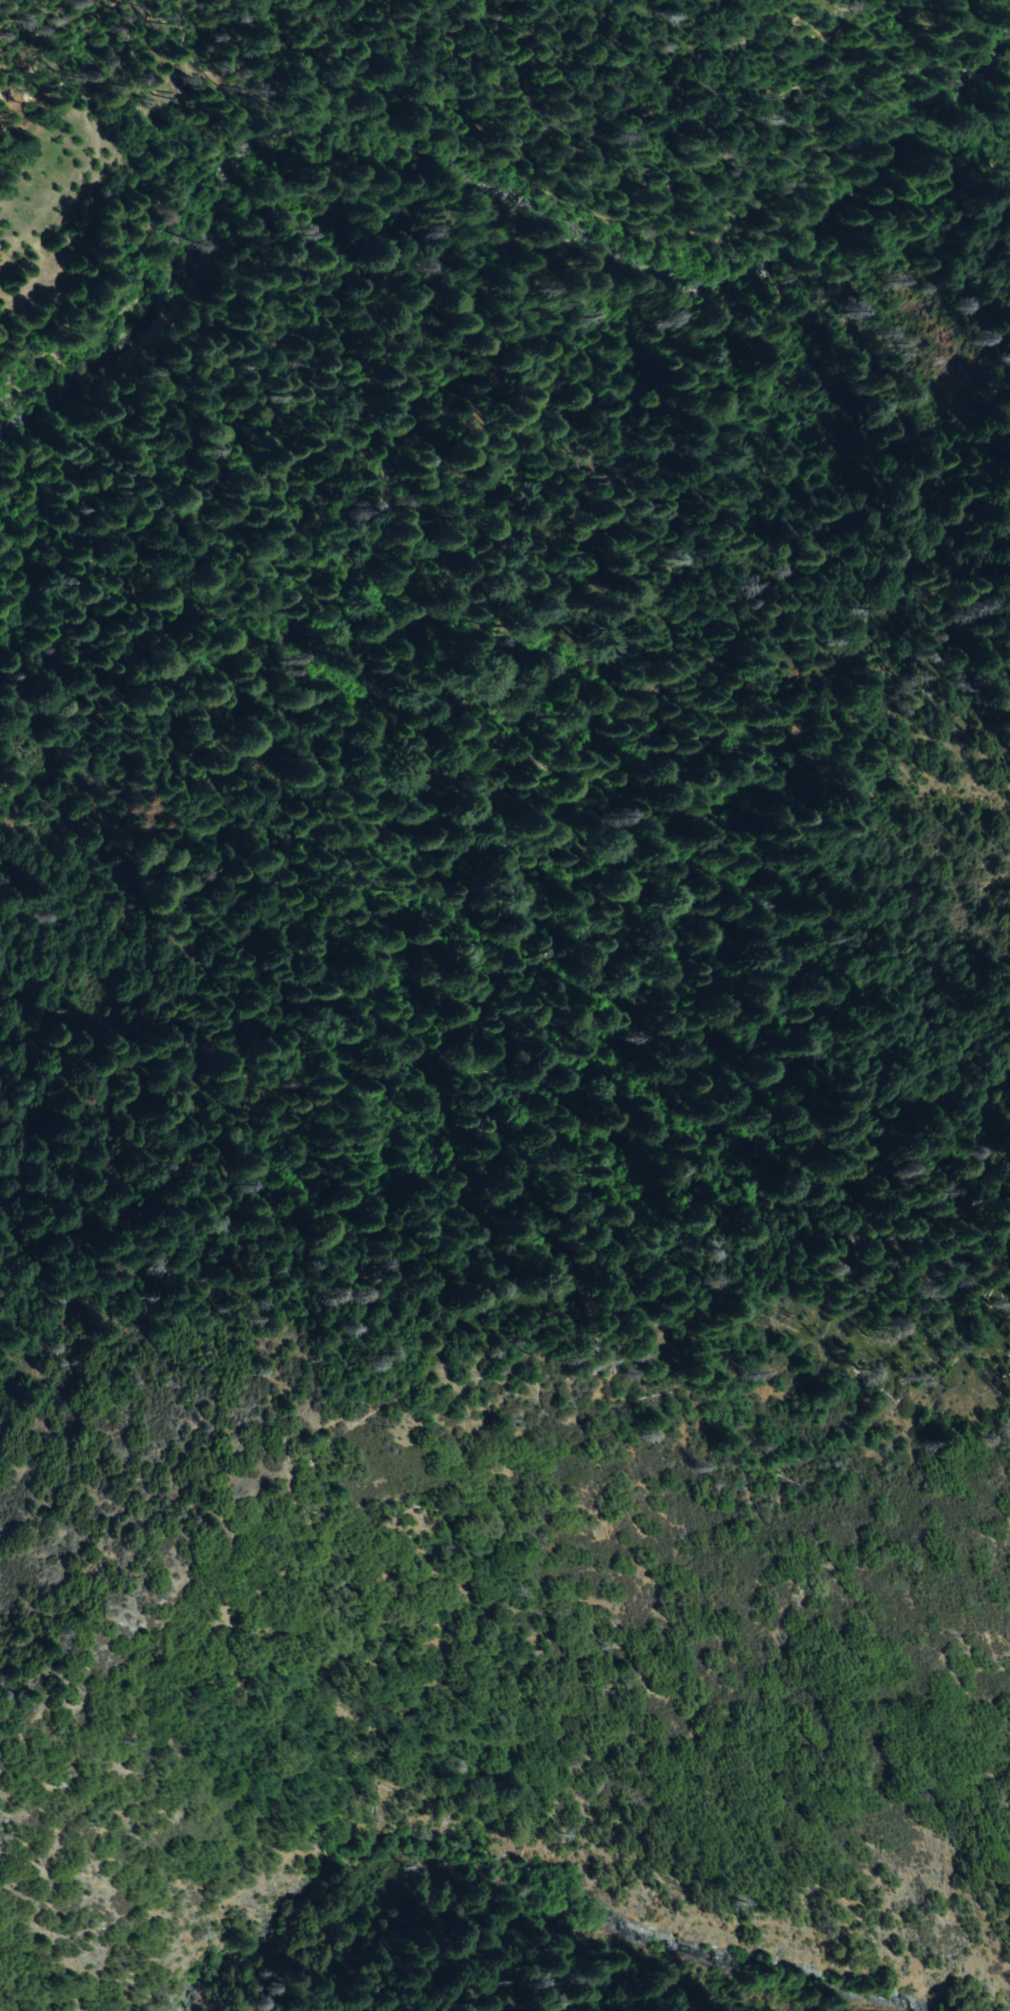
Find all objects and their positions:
river: (519, 175)

